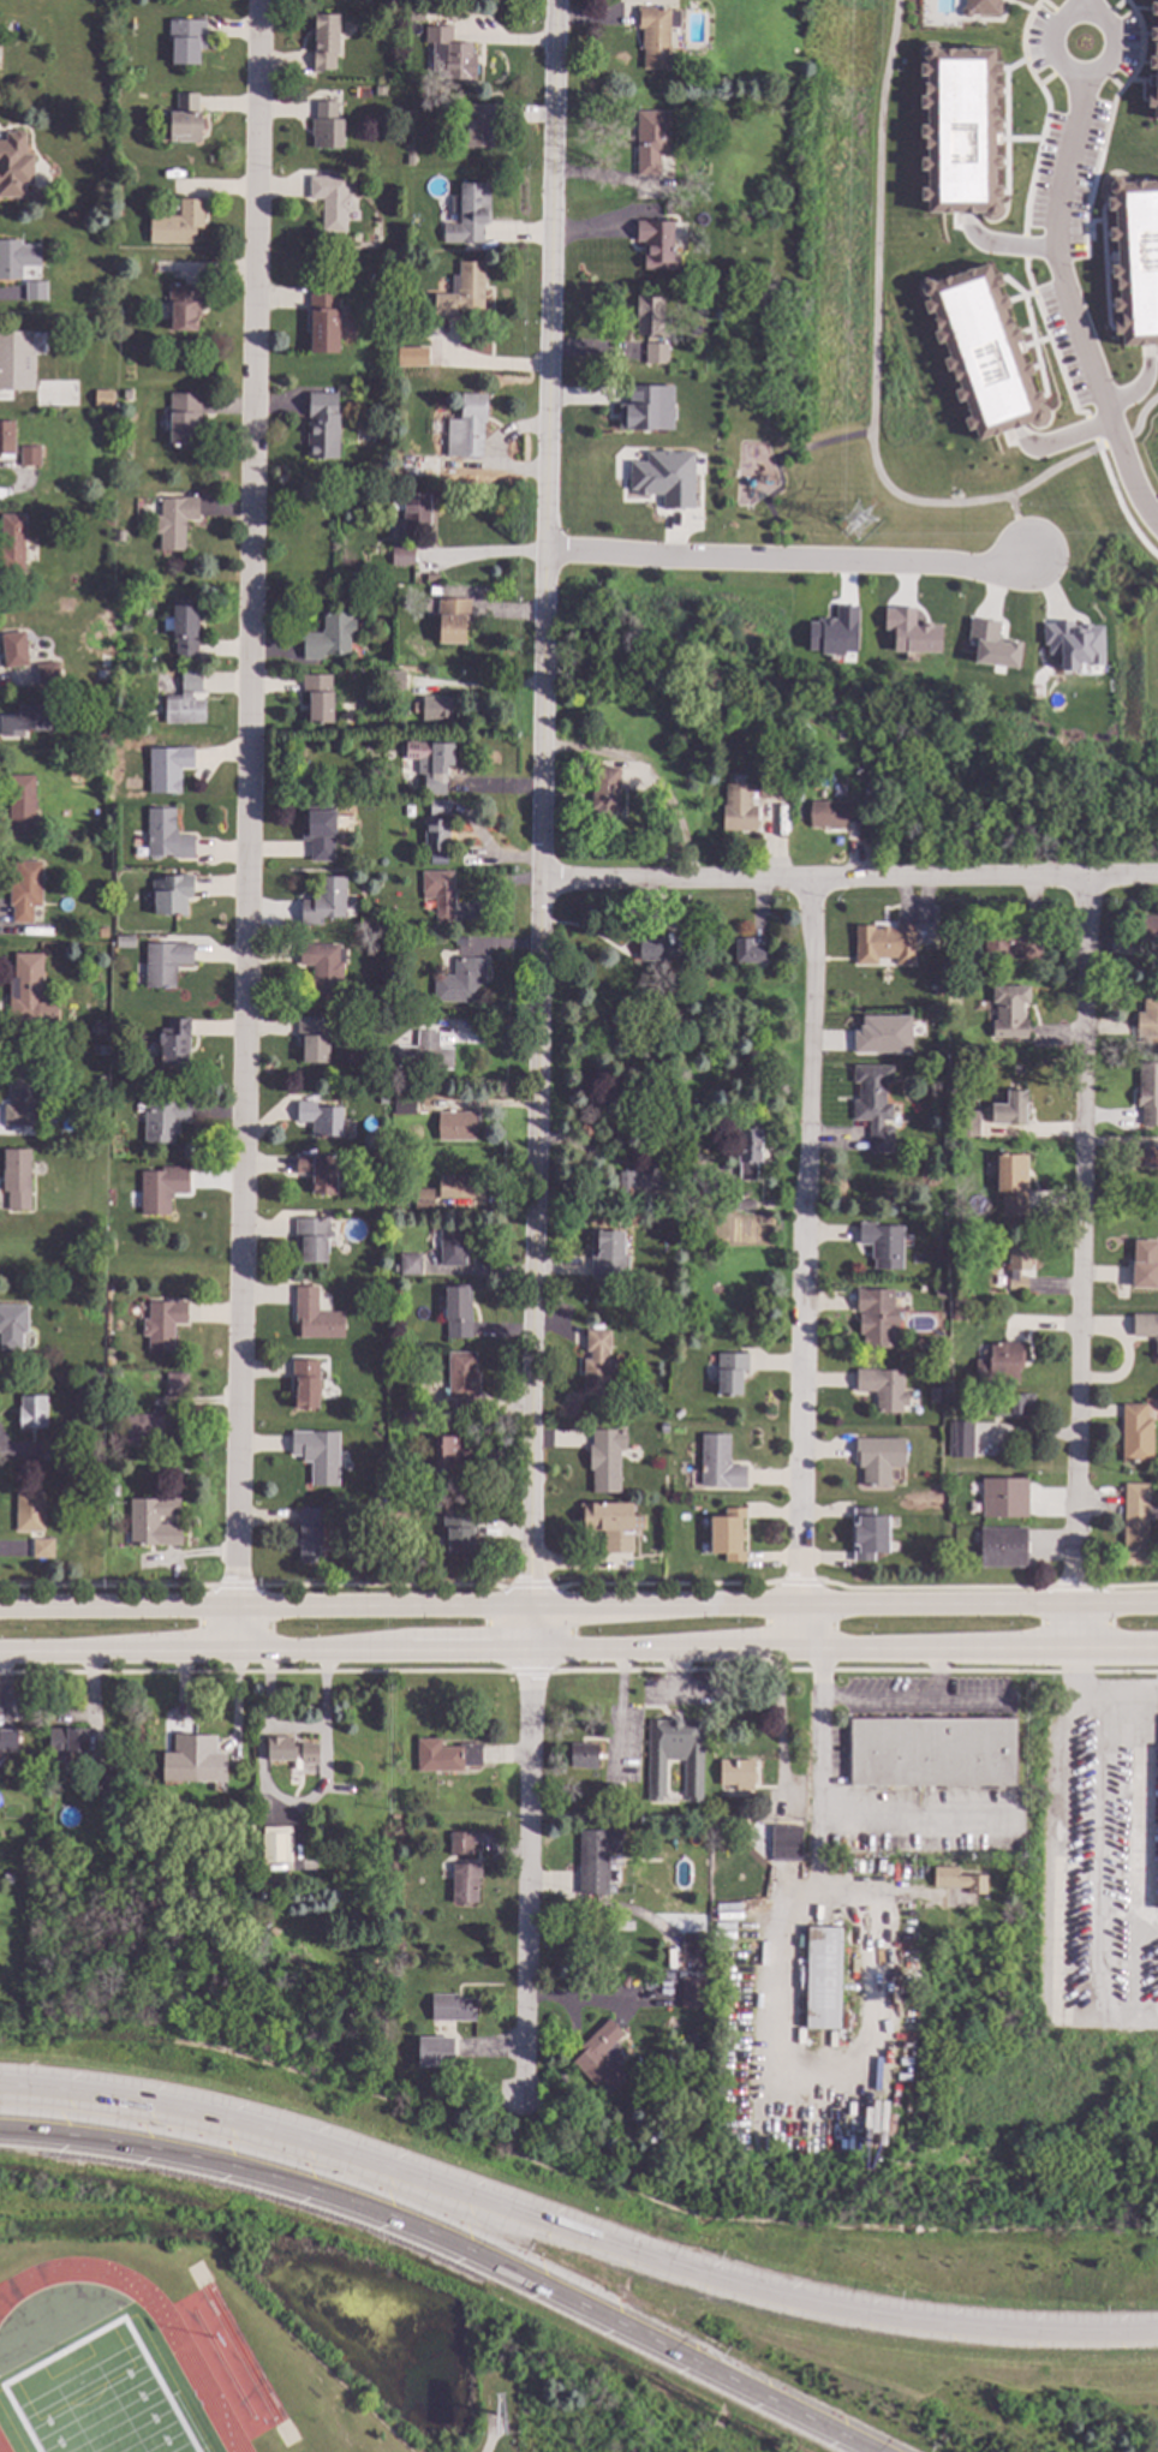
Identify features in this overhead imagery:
road: (1081, 6)
building: (979, 7)
road: (1053, 10)
road: (1112, 10)
road: (1098, 16)
building: (656, 36)
building: (186, 41)
building: (324, 42)
building: (452, 55)
building: (1153, 61)
road: (1050, 74)
road: (1110, 78)
building: (380, 91)
road: (1046, 114)
building: (185, 120)
road: (1106, 121)
building: (479, 125)
building: (327, 127)
building: (959, 129)
building: (651, 142)
building: (410, 161)
building: (14, 166)
building: (333, 201)
building: (663, 202)
building: (446, 214)
building: (468, 214)
building: (178, 225)
road: (1070, 231)
building: (657, 244)
road: (1005, 244)
road: (1023, 246)
building: (1134, 258)
building: (17, 259)
building: (35, 291)
building: (462, 291)
building: (698, 305)
road: (1072, 305)
building: (184, 308)
building: (649, 316)
building: (323, 320)
road: (1049, 341)
building: (980, 351)
building: (656, 354)
building: (412, 356)
building: (10, 360)
road: (873, 360)
road: (1138, 384)
building: (102, 398)
building: (646, 408)
road: (1141, 413)
building: (184, 419)
building: (322, 428)
road: (1090, 428)
building: (467, 429)
road: (1062, 437)
road: (1116, 440)
building: (6, 441)
building: (29, 458)
road: (775, 464)
building: (406, 467)
building: (663, 477)
road: (1117, 503)
building: (416, 513)
building: (174, 521)
power tower: (860, 526)
road: (1020, 526)
building: (118, 537)
building: (11, 544)
road: (478, 555)
building: (402, 556)
road: (789, 560)
building: (434, 590)
park: (757, 607)
building: (452, 622)
building: (185, 628)
building: (909, 631)
building: (832, 632)
building: (329, 638)
building: (1073, 643)
building: (991, 645)
building: (14, 651)
building: (103, 661)
building: (48, 676)
building: (394, 681)
building: (318, 697)
building: (186, 702)
building: (434, 710)
building: (691, 711)
building: (25, 721)
building: (335, 741)
building: (430, 764)
building: (168, 769)
building: (859, 772)
building: (769, 788)
building: (604, 792)
building: (20, 805)
building: (438, 809)
building: (738, 810)
building: (832, 815)
road: (247, 825)
building: (320, 834)
building: (166, 836)
building: (436, 836)
road: (849, 879)
building: (25, 891)
building: (438, 894)
building: (172, 895)
building: (324, 902)
building: (370, 929)
building: (362, 930)
building: (102, 933)
building: (1147, 937)
building: (124, 941)
building: (460, 942)
building: (889, 943)
building: (1011, 943)
building: (747, 953)
building: (665, 957)
building: (165, 964)
building: (323, 968)
building: (1001, 978)
building: (460, 982)
building: (25, 990)
building: (938, 991)
building: (1009, 1013)
building: (1147, 1019)
building: (100, 1031)
building: (882, 1034)
building: (314, 1039)
building: (174, 1043)
road: (538, 1050)
building: (101, 1051)
building: (424, 1054)
building: (380, 1070)
building: (1147, 1093)
building: (22, 1097)
building: (404, 1105)
building: (873, 1106)
building: (1009, 1110)
building: (320, 1120)
building: (163, 1121)
building: (968, 1123)
building: (455, 1127)
building: (748, 1151)
building: (1142, 1158)
building: (318, 1173)
building: (17, 1180)
building: (1011, 1185)
building: (623, 1187)
building: (456, 1188)
building: (161, 1189)
building: (423, 1200)
building: (769, 1204)
building: (716, 1205)
building: (744, 1205)
building: (311, 1241)
building: (883, 1245)
building: (452, 1248)
building: (608, 1255)
road: (1079, 1261)
road: (806, 1263)
building: (410, 1265)
building: (1017, 1266)
building: (1144, 1266)
building: (111, 1279)
building: (943, 1290)
building: (962, 1303)
building: (657, 1308)
building: (458, 1312)
building: (316, 1318)
building: (877, 1318)
building: (163, 1325)
building: (12, 1326)
building: (1146, 1329)
building: (926, 1343)
building: (595, 1364)
building: (1001, 1365)
building: (730, 1373)
building: (96, 1374)
building: (462, 1383)
building: (177, 1385)
building: (305, 1385)
building: (883, 1389)
building: (933, 1395)
building: (1013, 1406)
building: (31, 1413)
building: (408, 1416)
building: (144, 1426)
building: (957, 1431)
building: (1135, 1436)
building: (113, 1444)
building: (54, 1452)
building: (317, 1456)
building: (447, 1457)
building: (878, 1458)
building: (605, 1460)
building: (718, 1464)
building: (1004, 1499)
building: (375, 1505)
building: (393, 1505)
building: (29, 1514)
building: (154, 1523)
building: (1135, 1523)
building: (609, 1526)
building: (459, 1531)
building: (310, 1535)
building: (727, 1535)
building: (868, 1535)
building: (1003, 1549)
building: (42, 1550)
building: (91, 1562)
road: (578, 1603)
road: (578, 1647)
road: (936, 1674)
road: (911, 1700)
building: (7, 1738)
building: (64, 1747)
building: (932, 1750)
building: (293, 1752)
building: (674, 1753)
building: (446, 1754)
building: (584, 1754)
building: (192, 1758)
building: (736, 1772)
building: (101, 1773)
building: (610, 1791)
road: (291, 1807)
road: (837, 1815)
road: (1086, 1821)
building: (311, 1827)
building: (786, 1841)
building: (460, 1842)
building: (276, 1844)
building: (596, 1859)
building: (956, 1877)
building: (7, 1878)
building: (465, 1881)
building: (625, 1925)
building: (692, 1946)
building: (369, 1957)
building: (822, 1976)
building: (390, 1980)
building: (625, 1980)
building: (691, 1991)
building: (450, 2006)
building: (435, 2051)
building: (601, 2057)
building: (635, 2086)
street lamp: (163, 2131)
street lamp: (341, 2176)
road: (574, 2232)
road: (453, 2243)
street lamp: (524, 2253)
track: (153, 2303)
park: (97, 2400)
road: (493, 2435)

